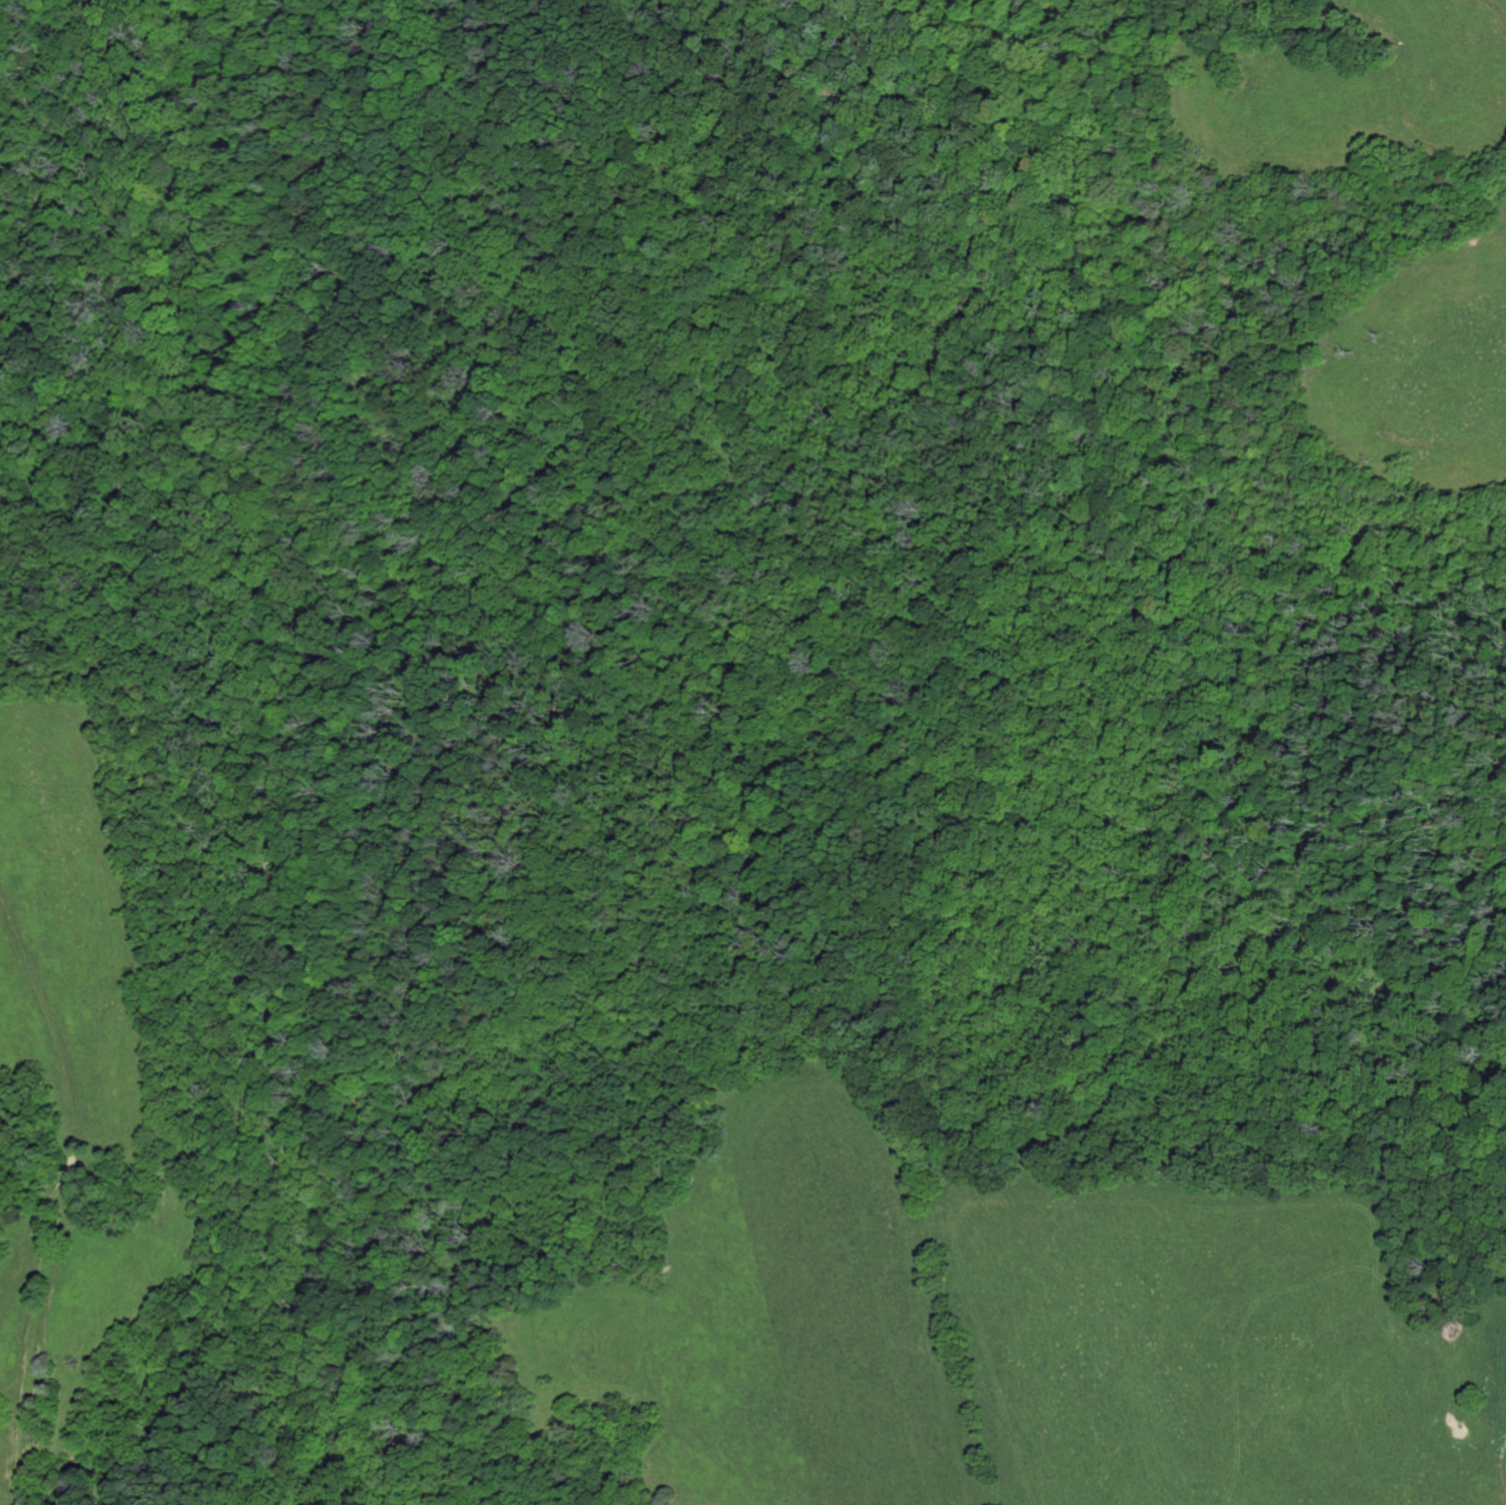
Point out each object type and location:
park: (1473, 1293)

